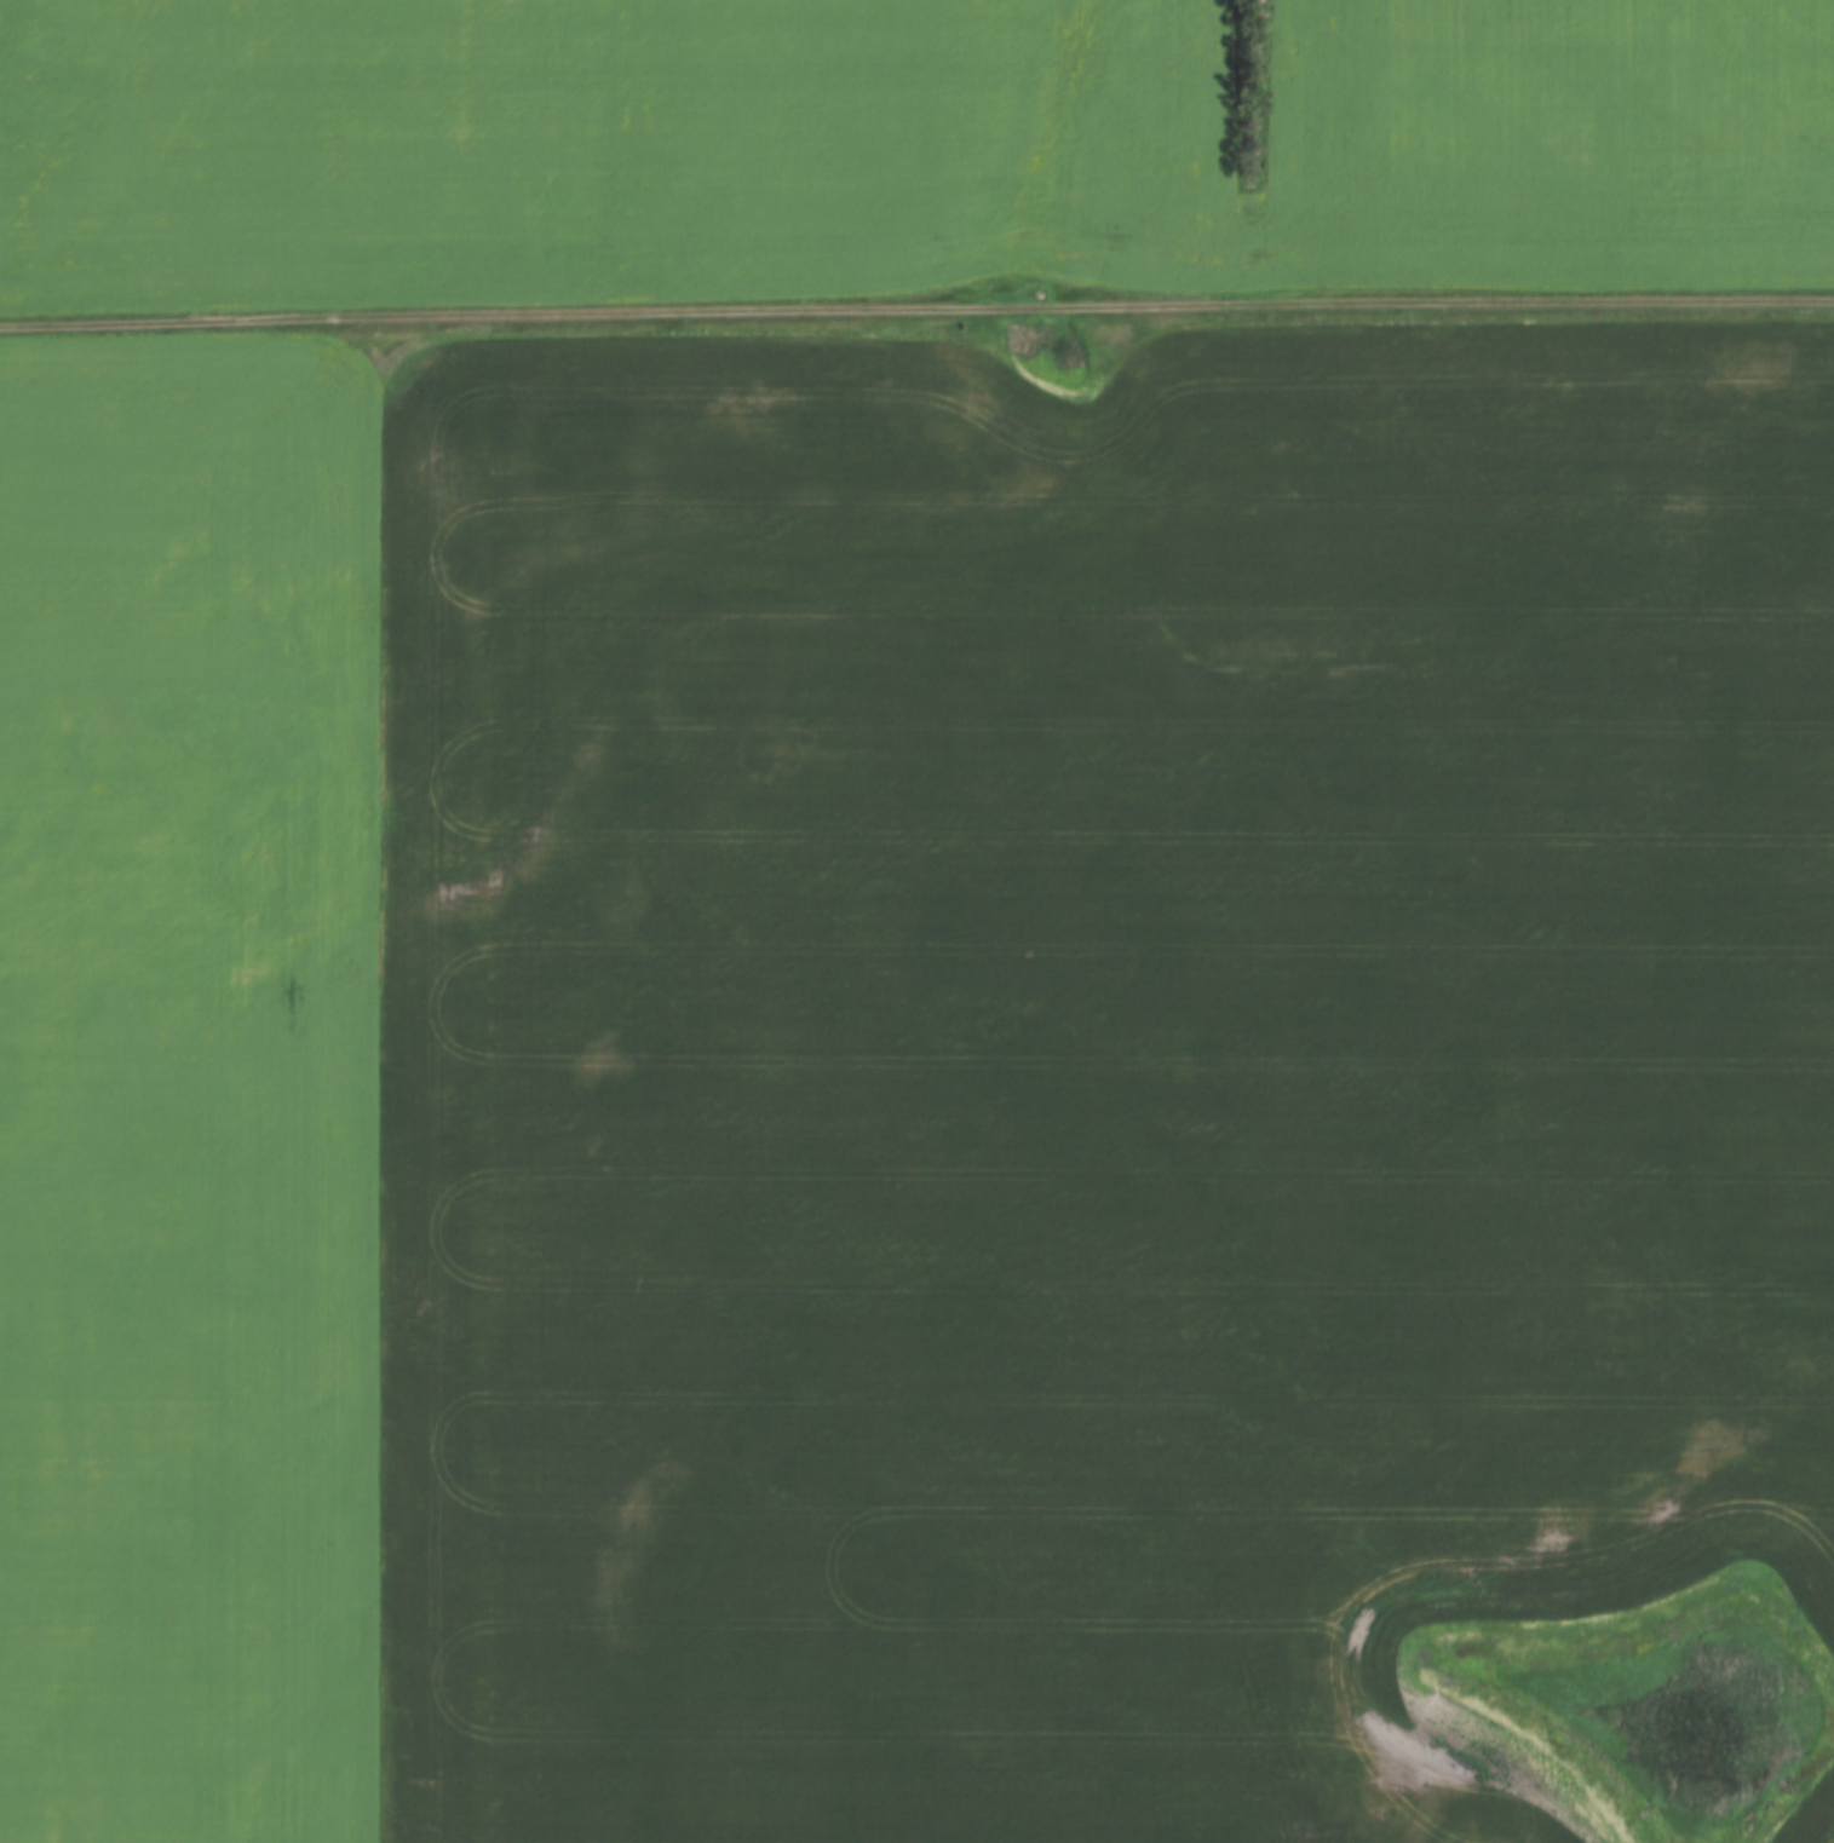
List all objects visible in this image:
road: (916, 305)

